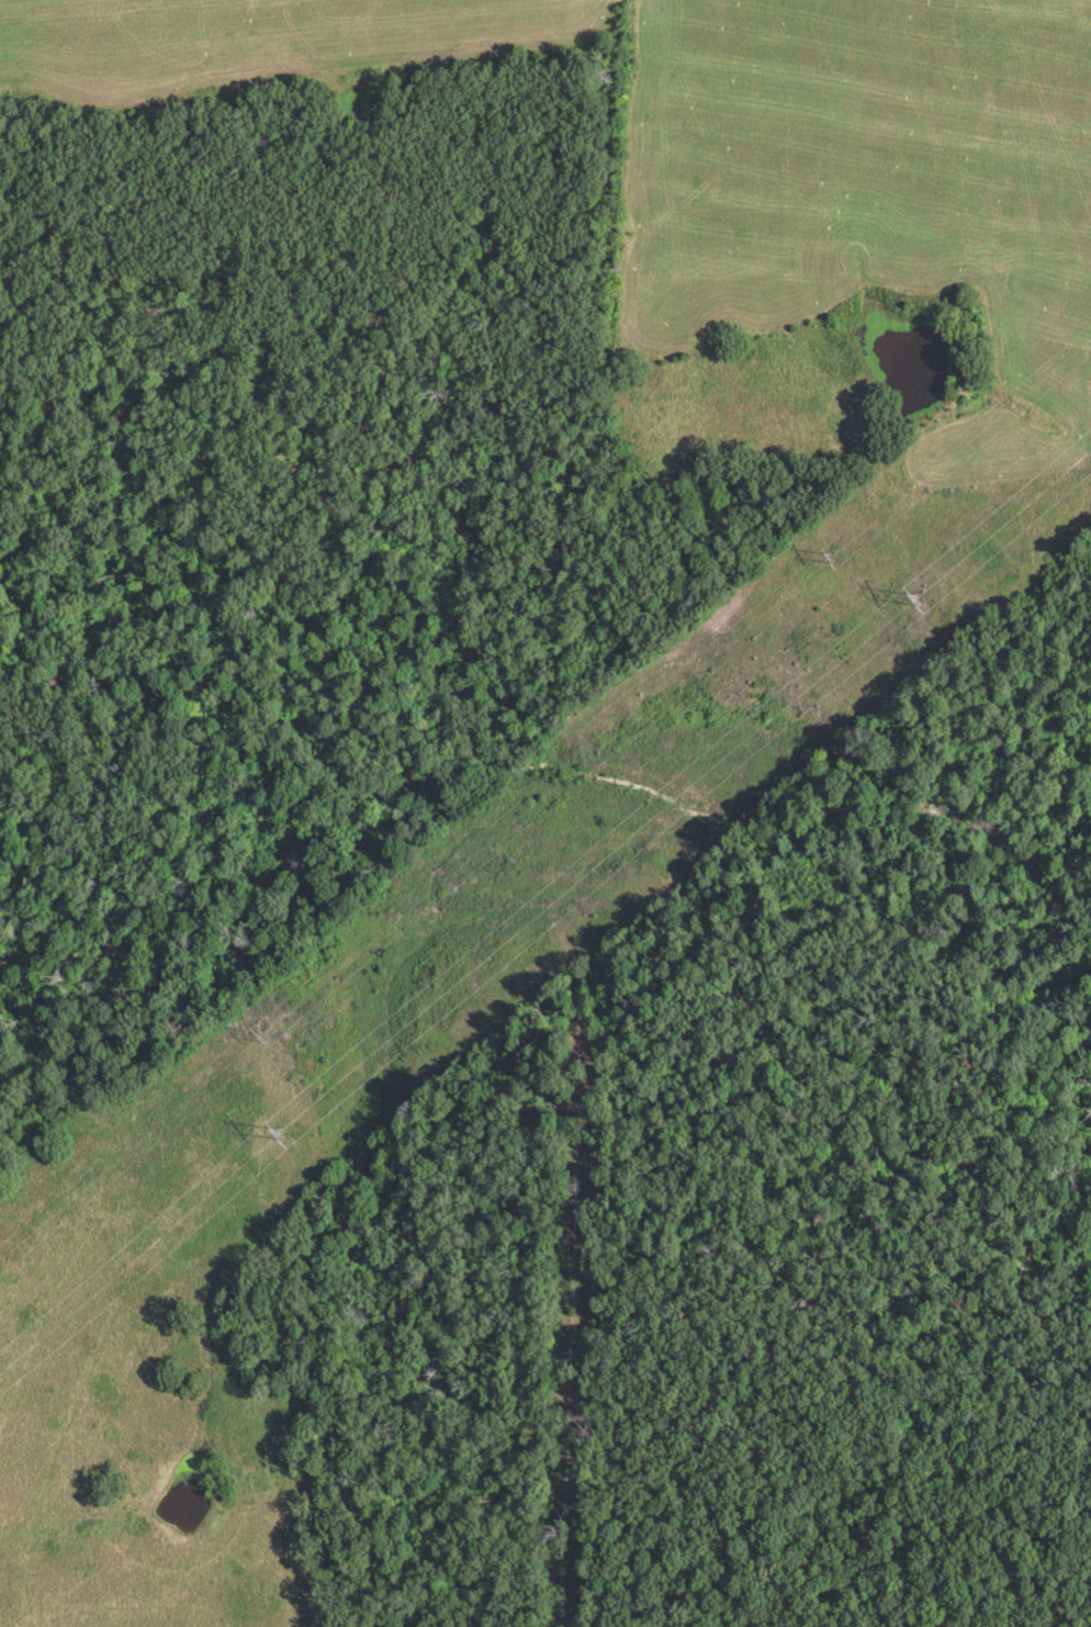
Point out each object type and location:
power tower: (914, 595)
power tower: (278, 1129)

